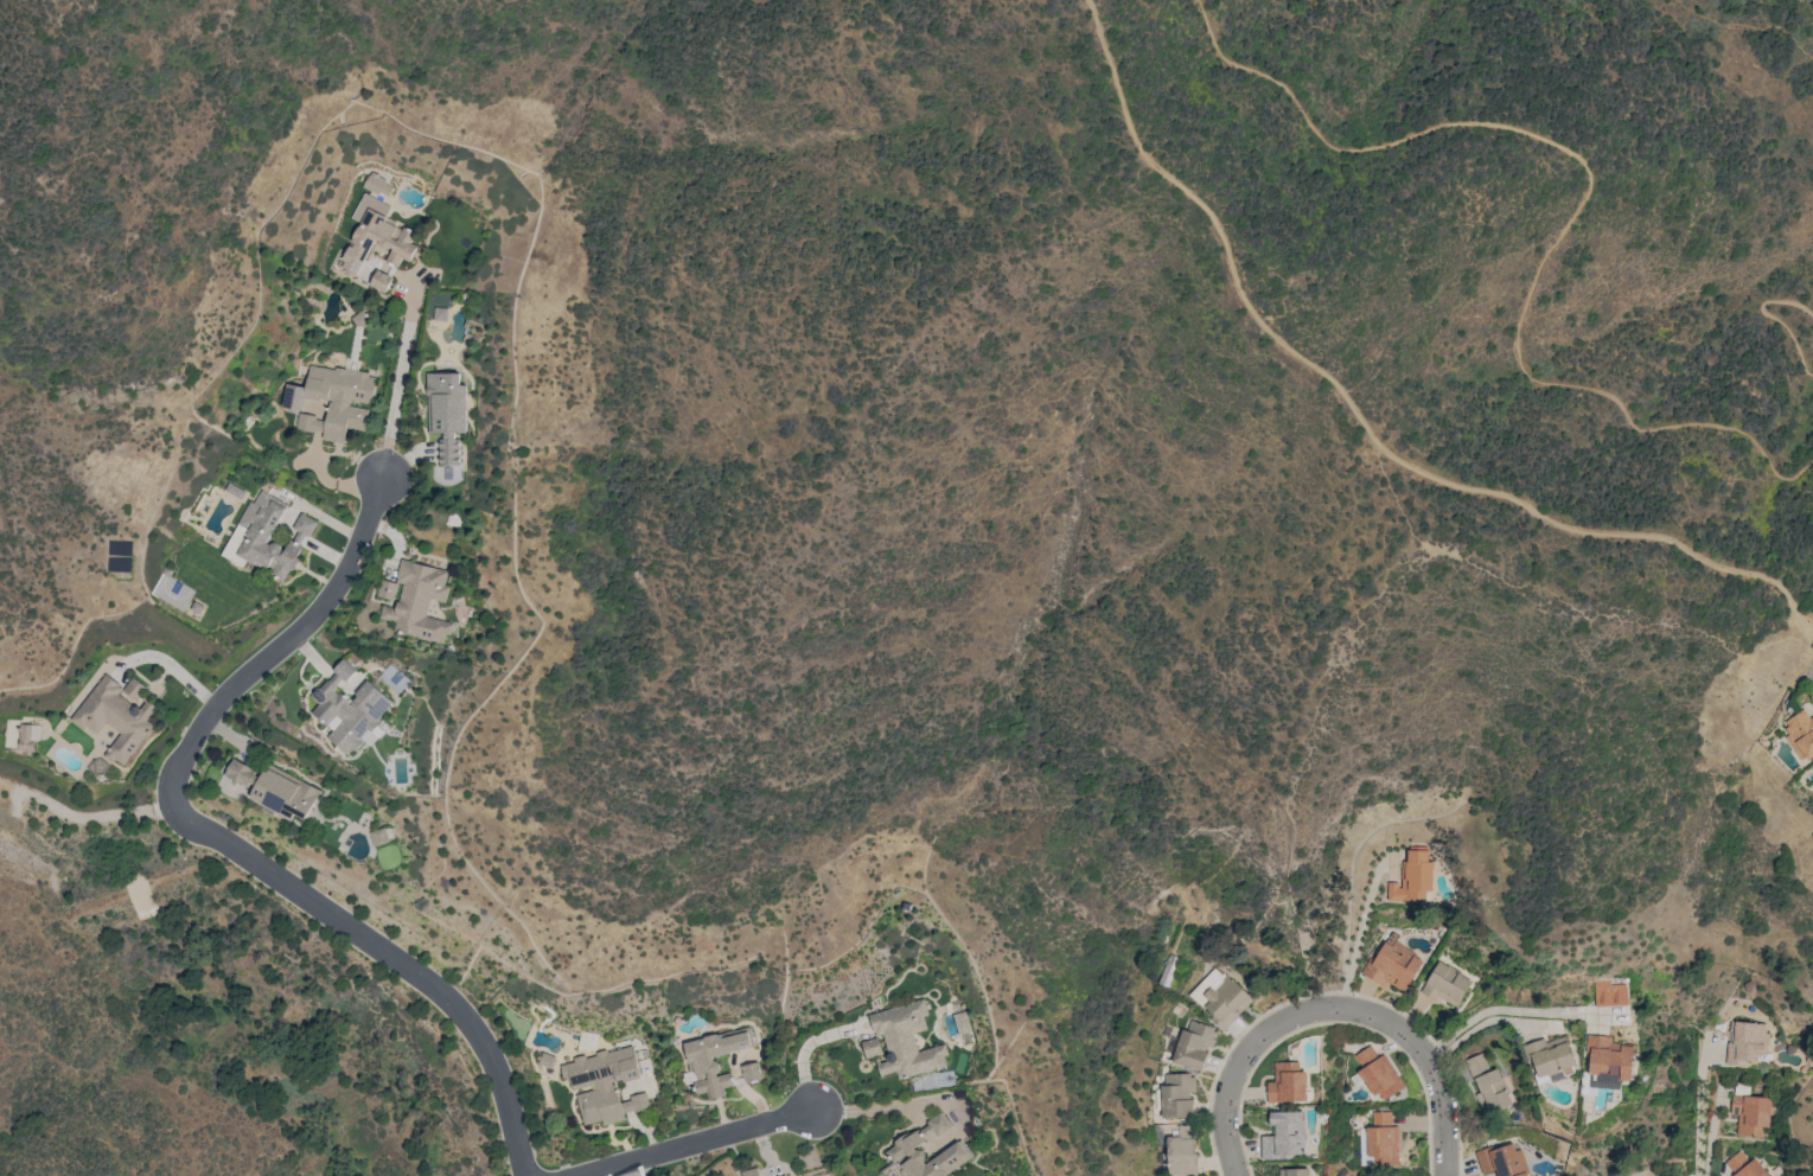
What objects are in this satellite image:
road: (1745, 27)
road: (1581, 203)
building: (368, 244)
building: (379, 281)
building: (439, 313)
road: (1767, 318)
road: (401, 372)
building: (337, 401)
road: (1361, 424)
building: (266, 537)
building: (388, 589)
building: (419, 601)
road: (279, 641)
building: (133, 689)
building: (349, 705)
building: (114, 717)
building: (1800, 733)
building: (27, 736)
building: (1812, 765)
building: (275, 788)
road: (82, 817)
building: (378, 836)
building: (1416, 875)
road: (1356, 932)
road: (392, 955)
building: (1392, 965)
building: (1445, 984)
building: (1609, 993)
building: (1223, 998)
road: (1340, 1009)
road: (1512, 1014)
building: (905, 1040)
building: (1745, 1042)
building: (1195, 1044)
road: (804, 1046)
building: (872, 1047)
building: (547, 1060)
building: (713, 1060)
building: (1605, 1063)
building: (751, 1072)
building: (1377, 1072)
building: (601, 1082)
building: (1287, 1082)
building: (1487, 1085)
building: (1179, 1094)
building: (634, 1102)
road: (1700, 1113)
building: (1751, 1113)
building: (1284, 1136)
building: (1379, 1140)
road: (688, 1142)
building: (902, 1146)
building: (1183, 1151)
building: (1501, 1159)
building: (1743, 1165)
building: (751, 1171)
building: (1295, 1171)
building: (785, 1175)

